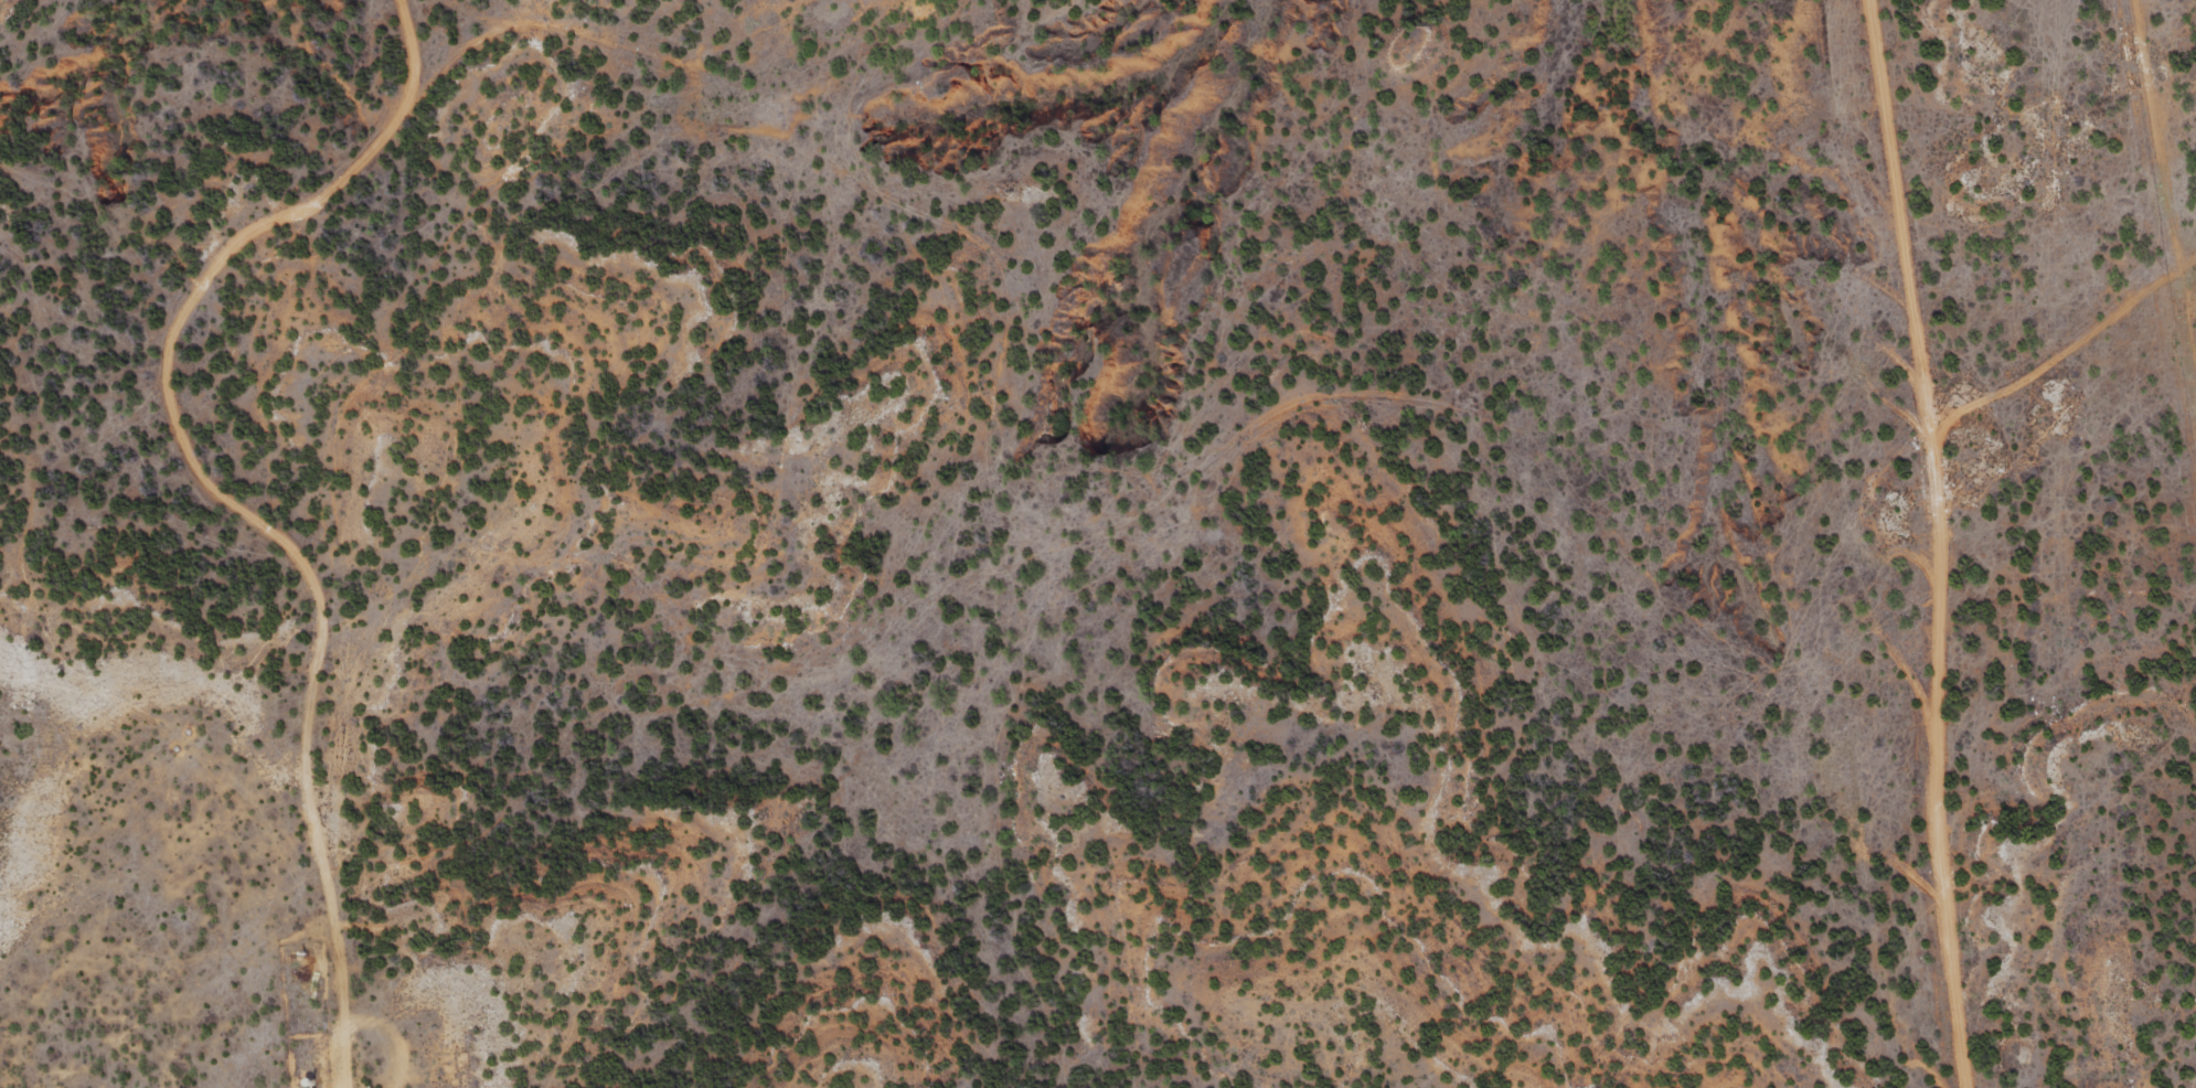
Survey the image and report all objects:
road: (1905, 543)

